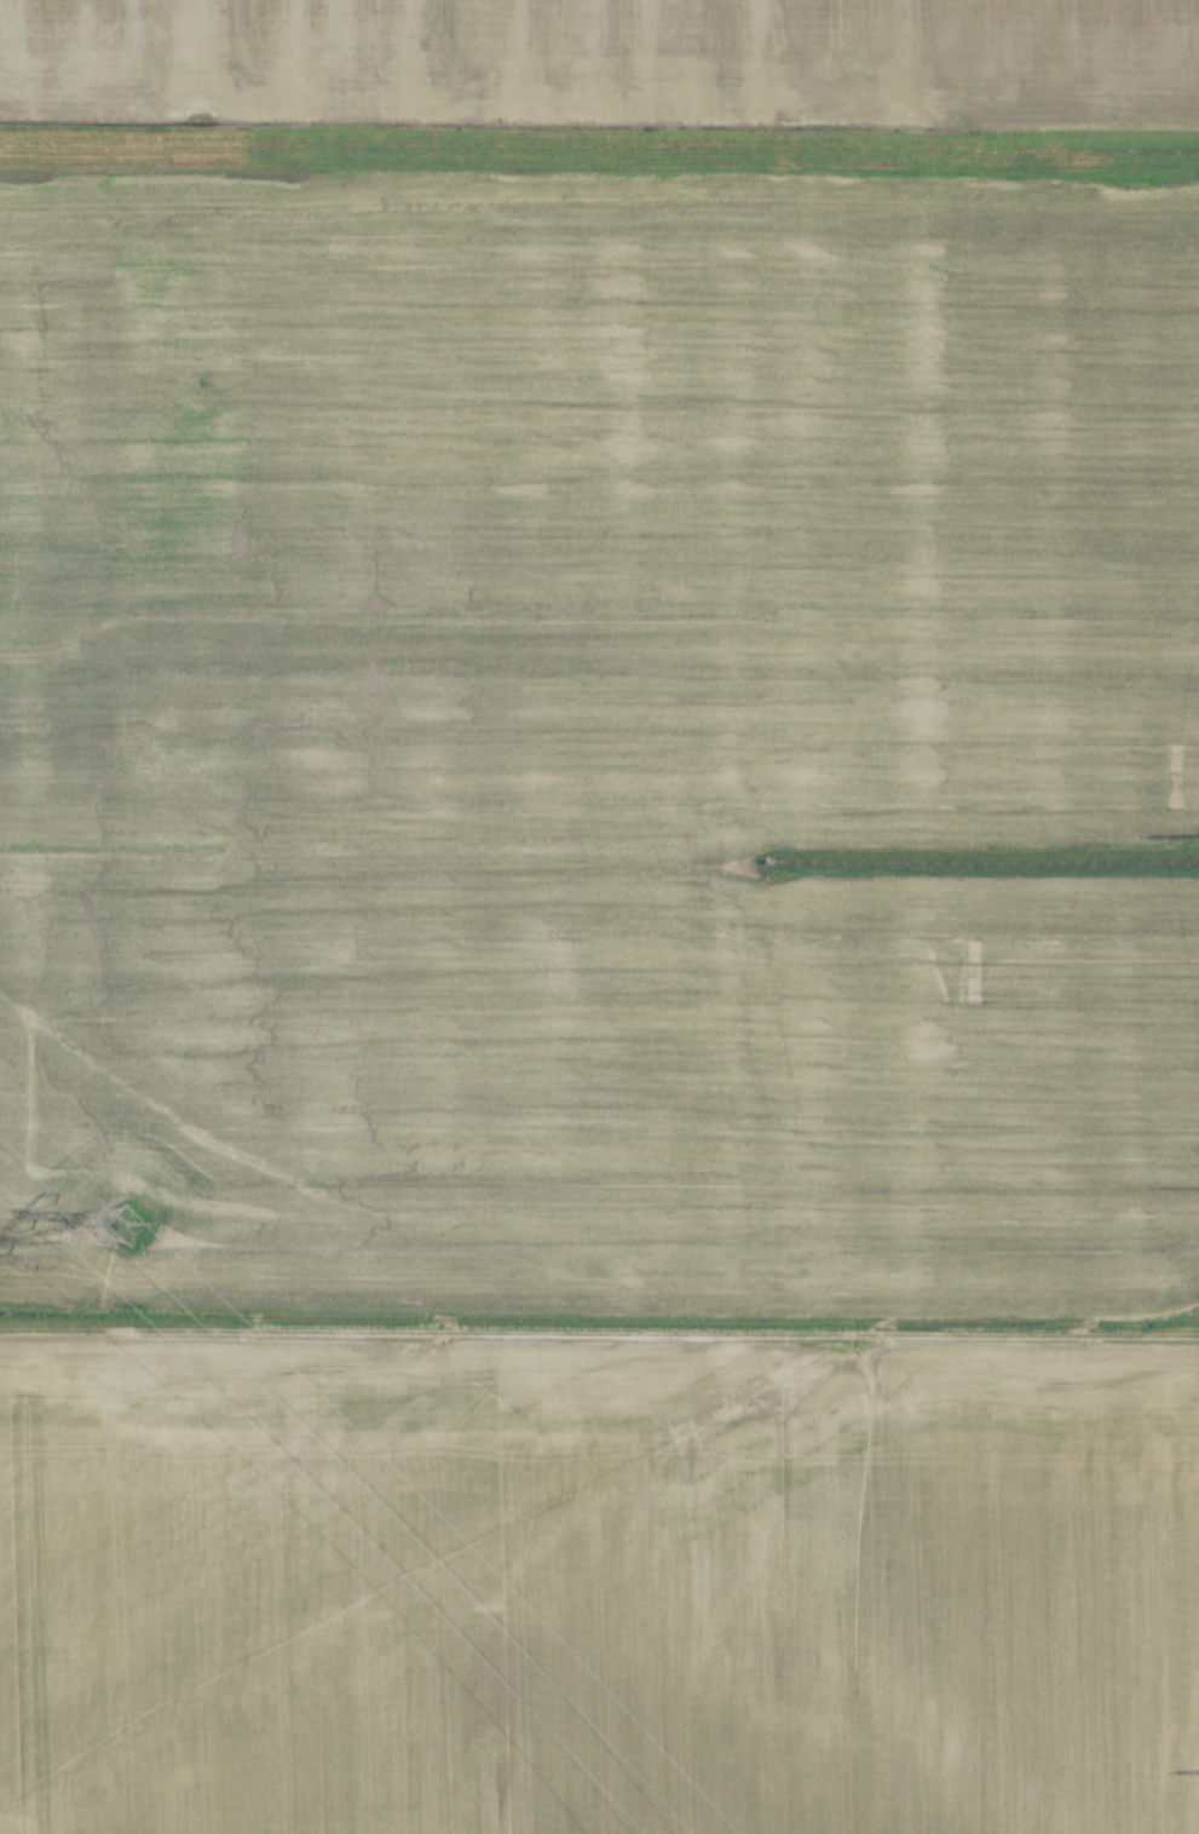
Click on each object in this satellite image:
road: (599, 172)
power tower: (139, 1232)
road: (599, 1336)

